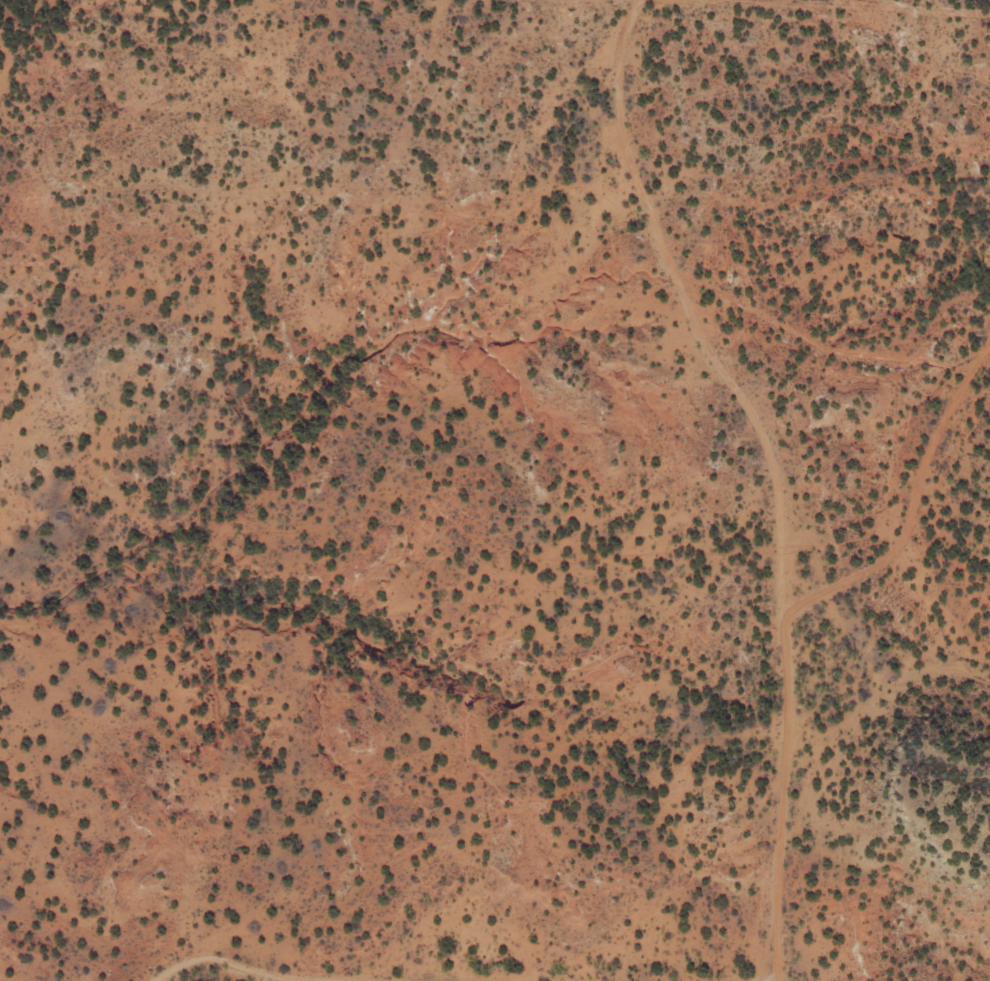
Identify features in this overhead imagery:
road: (764, 474)

